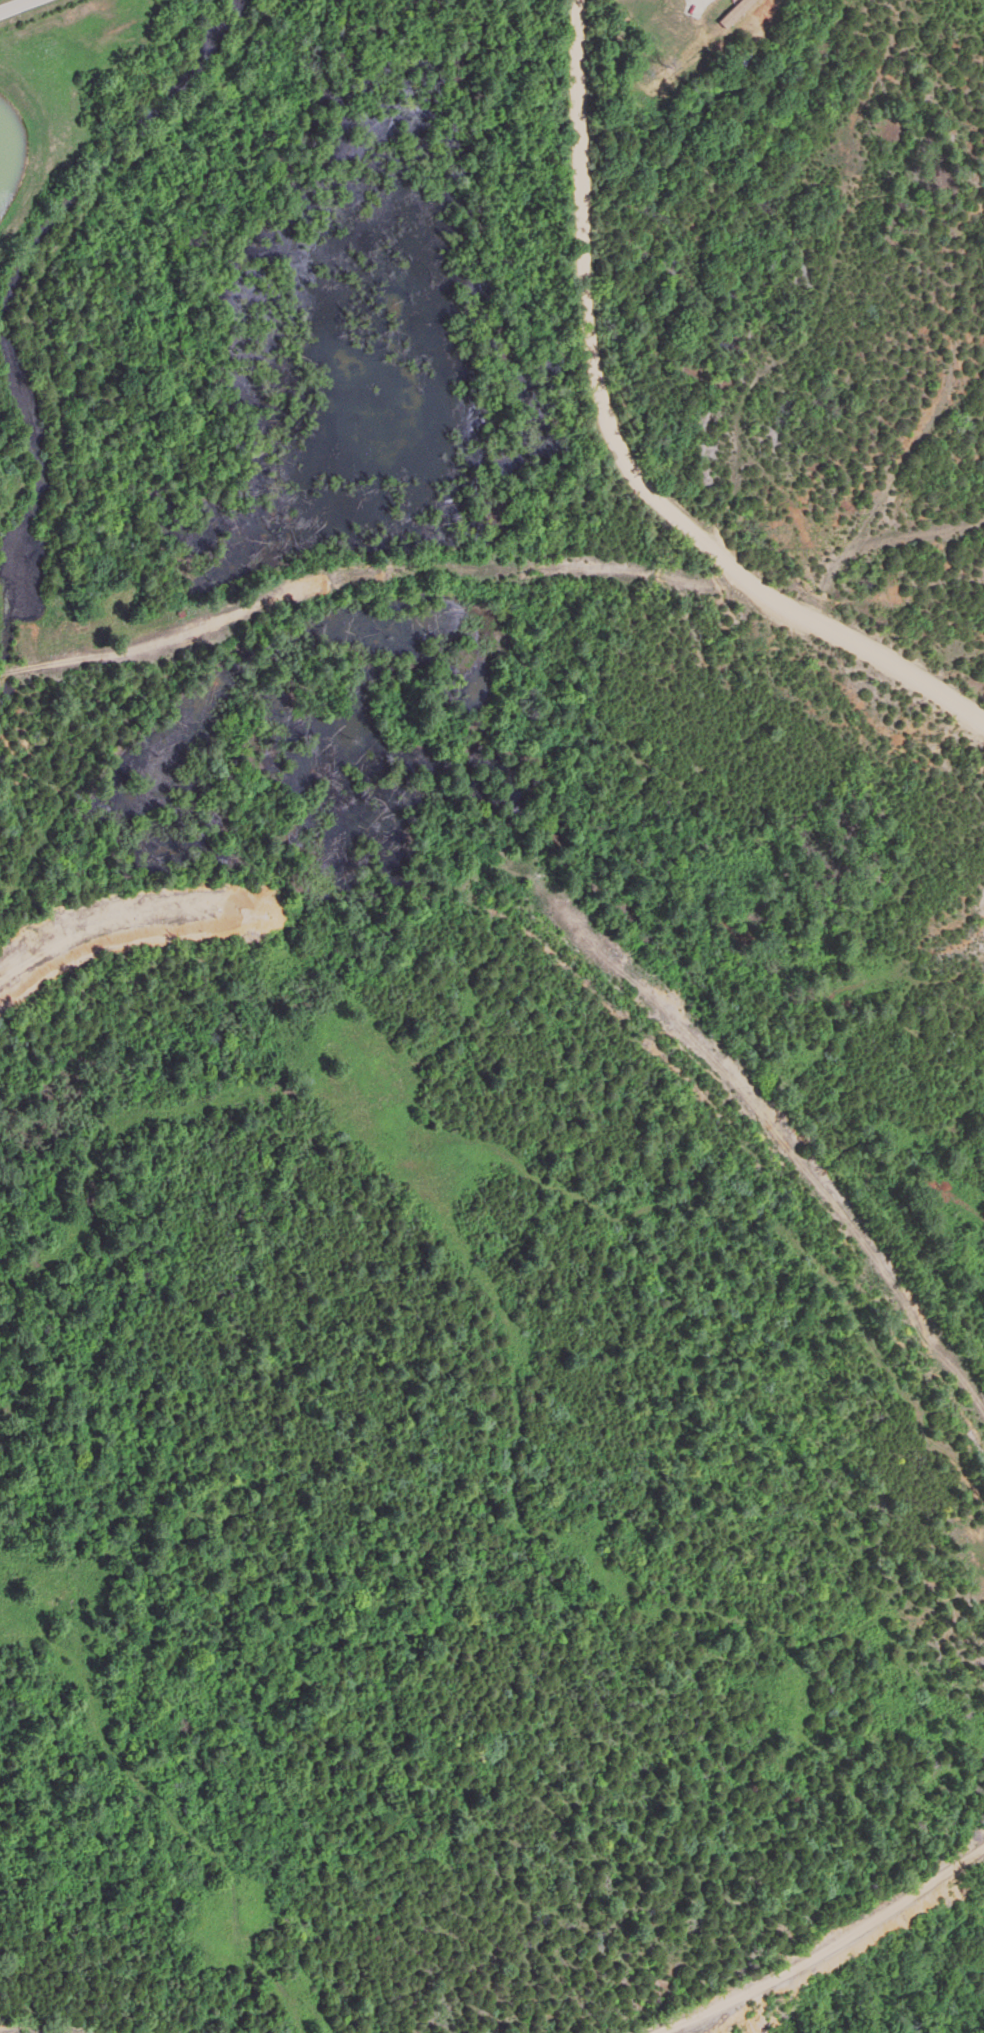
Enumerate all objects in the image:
road: (15, 5)
road: (960, 28)
road: (629, 447)
road: (914, 460)
road: (982, 2027)

